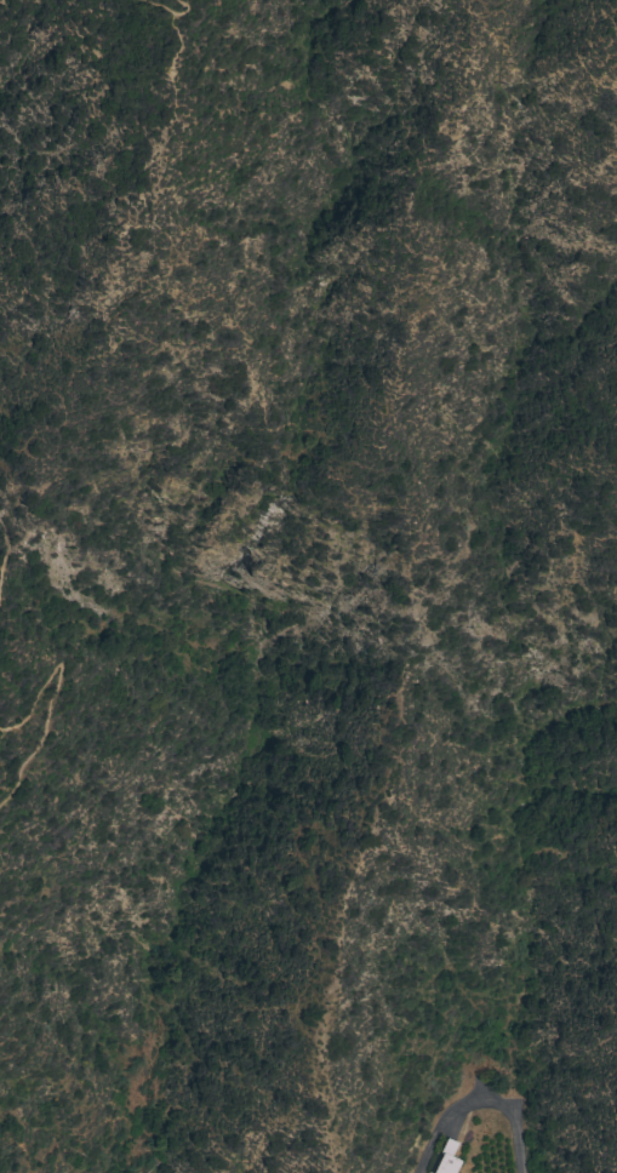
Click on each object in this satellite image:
road: (2, 1)
road: (167, 12)
road: (5, 556)
road: (52, 688)
road: (481, 1104)
building: (446, 1158)

